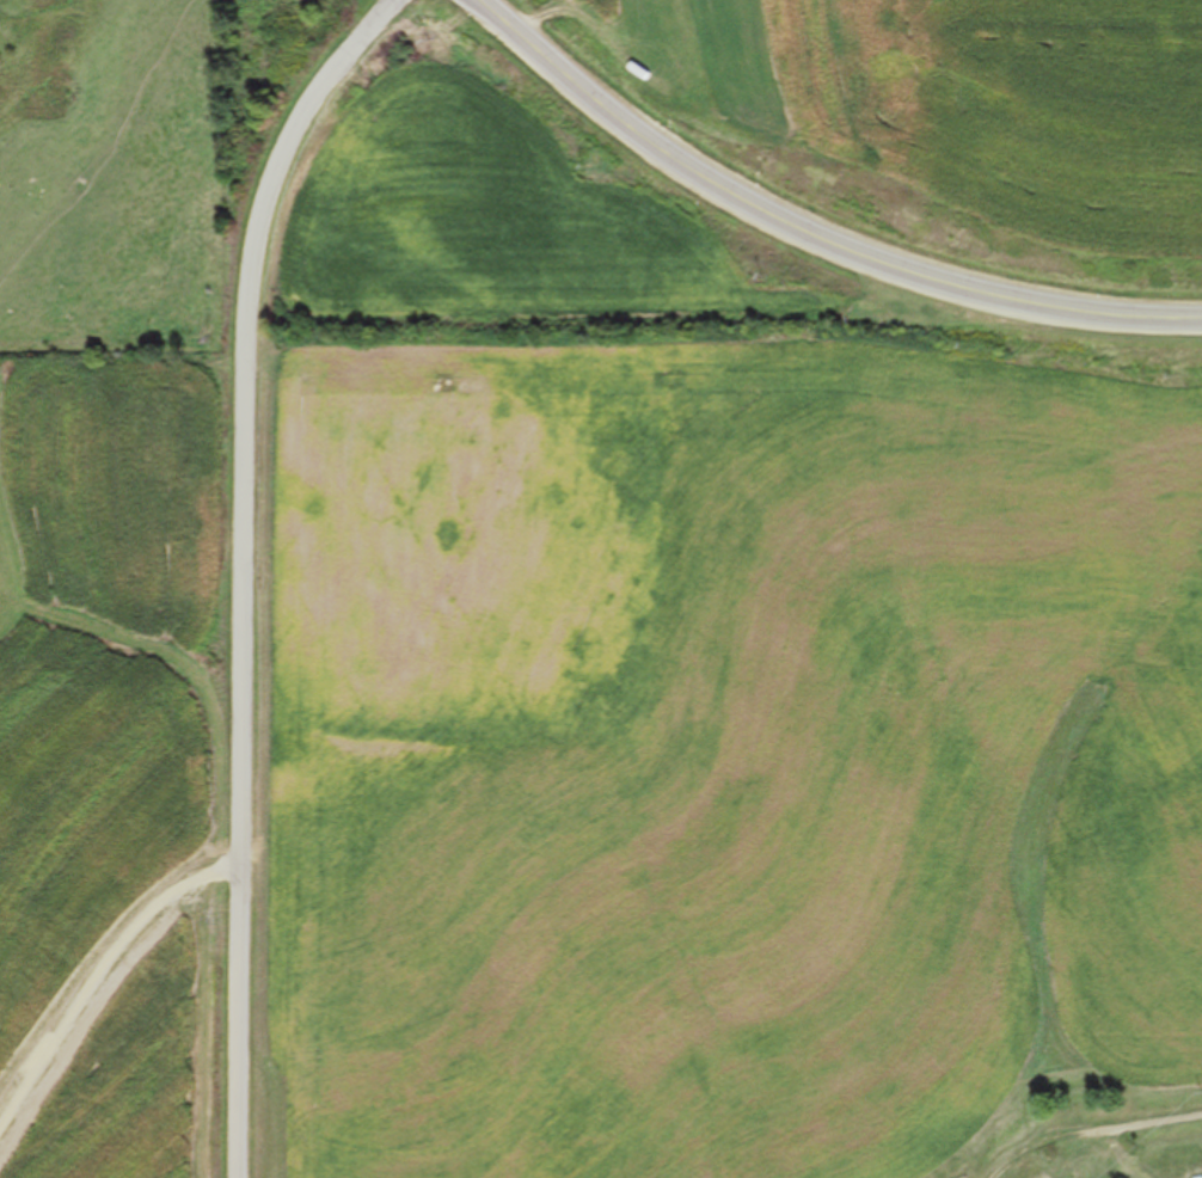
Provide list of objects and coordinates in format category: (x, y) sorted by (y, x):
road: (807, 232)
road: (249, 567)
road: (1129, 1127)
building: (1184, 1166)

